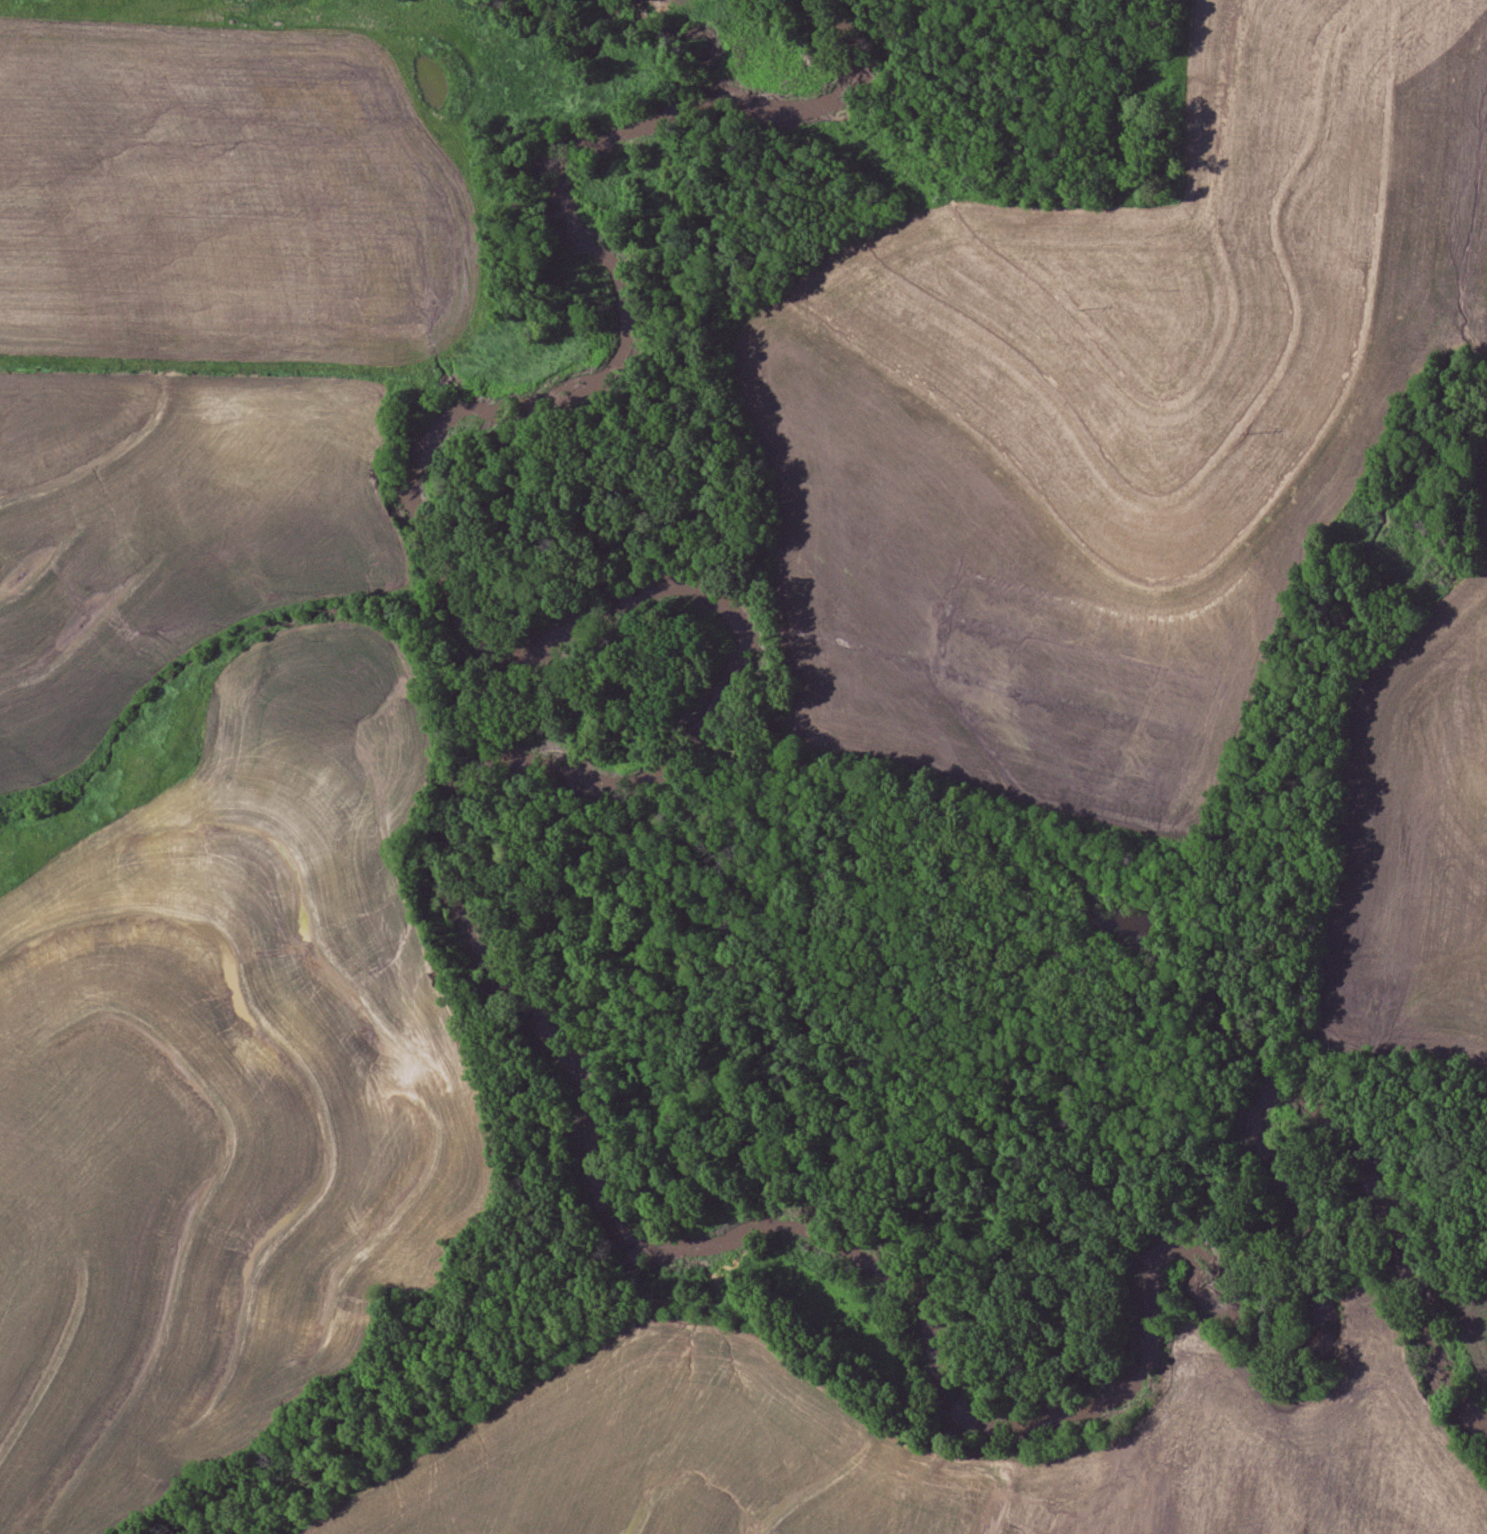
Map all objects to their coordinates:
park: (1146, 130)
building: (1093, 1400)

